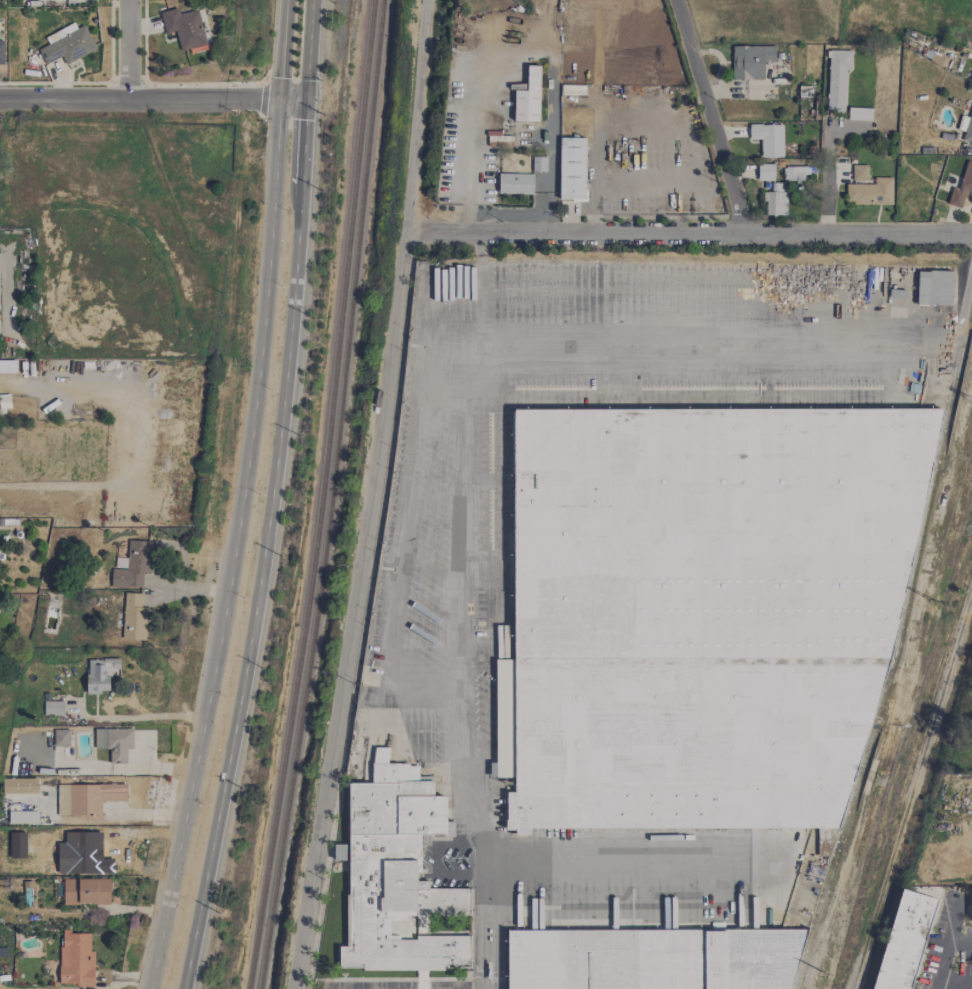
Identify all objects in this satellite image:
building: (184, 28)
building: (67, 44)
road: (307, 48)
road: (129, 50)
building: (1, 52)
building: (750, 62)
building: (837, 79)
traffic signals: (304, 97)
building: (527, 97)
traffic signals: (280, 98)
road: (152, 99)
building: (576, 112)
building: (859, 114)
road: (710, 116)
building: (966, 127)
building: (768, 139)
road: (302, 140)
road: (469, 149)
building: (538, 164)
road: (829, 167)
building: (571, 169)
building: (765, 172)
building: (859, 173)
building: (795, 174)
road: (592, 179)
building: (515, 184)
building: (961, 187)
building: (870, 193)
building: (775, 201)
road: (688, 233)
road: (478, 249)
road: (971, 265)
building: (933, 288)
road: (481, 302)
road: (958, 320)
building: (8, 366)
building: (4, 403)
road: (469, 451)
road: (64, 486)
railway: (324, 495)
railway: (334, 495)
road: (367, 495)
road: (242, 498)
building: (132, 566)
road: (258, 588)
road: (190, 590)
building: (680, 603)
building: (133, 617)
building: (99, 675)
building: (53, 708)
road: (150, 717)
building: (61, 738)
building: (114, 743)
building: (19, 786)
railway: (911, 789)
building: (86, 798)
building: (23, 817)
building: (395, 876)
building: (86, 891)
building: (971, 904)
building: (903, 941)
road: (944, 953)
building: (76, 959)
building: (645, 959)

